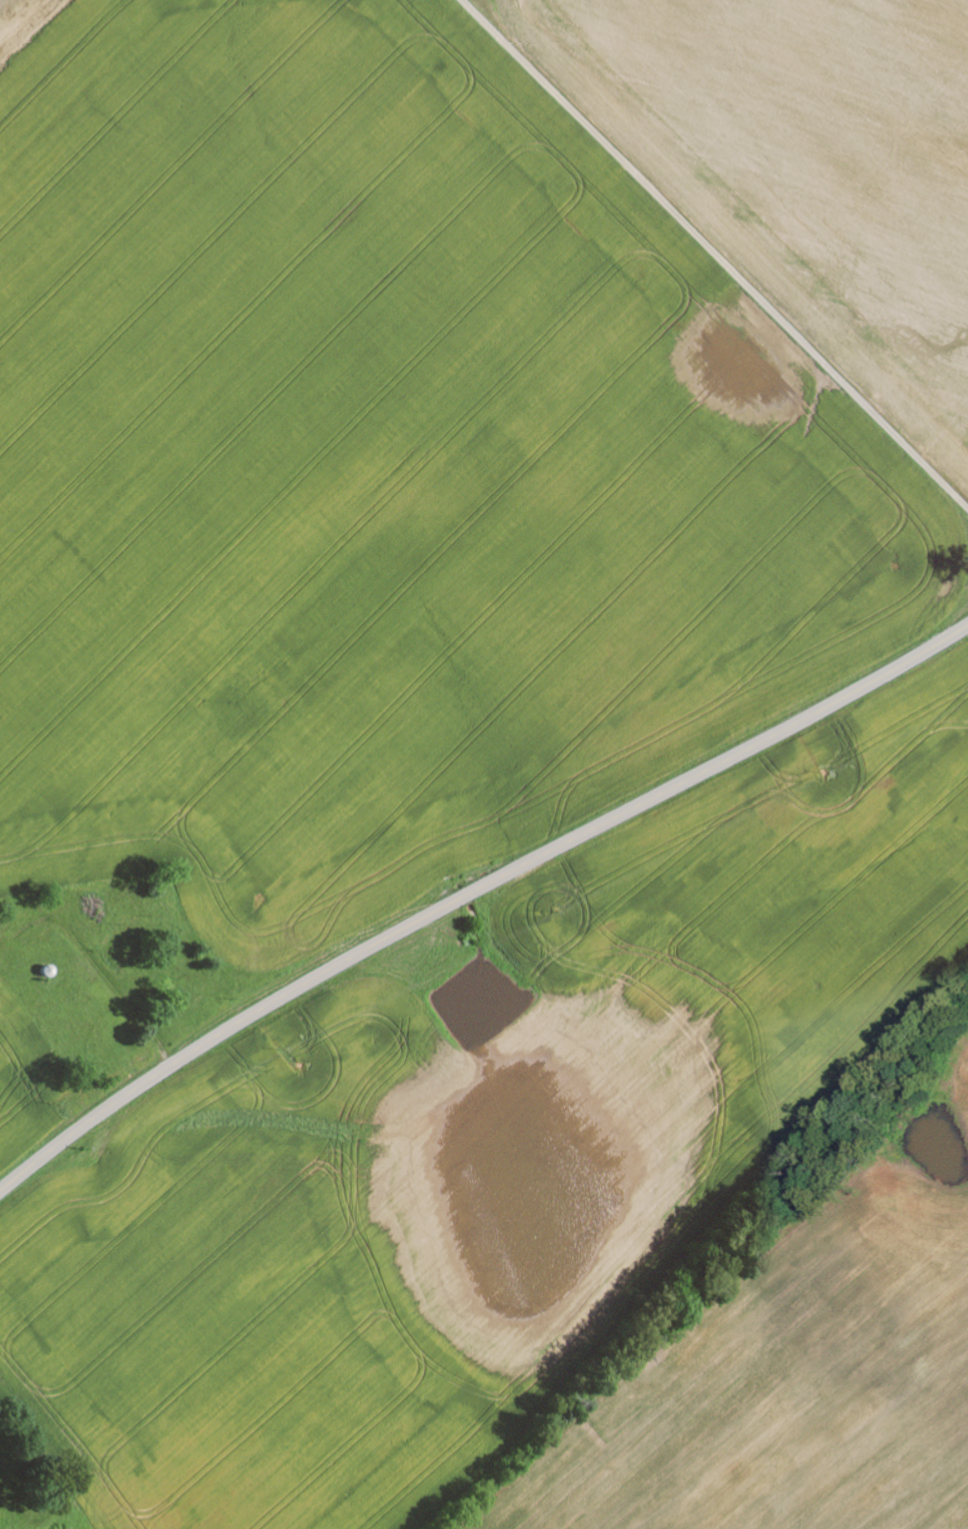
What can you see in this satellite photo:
road: (715, 254)
road: (474, 892)

